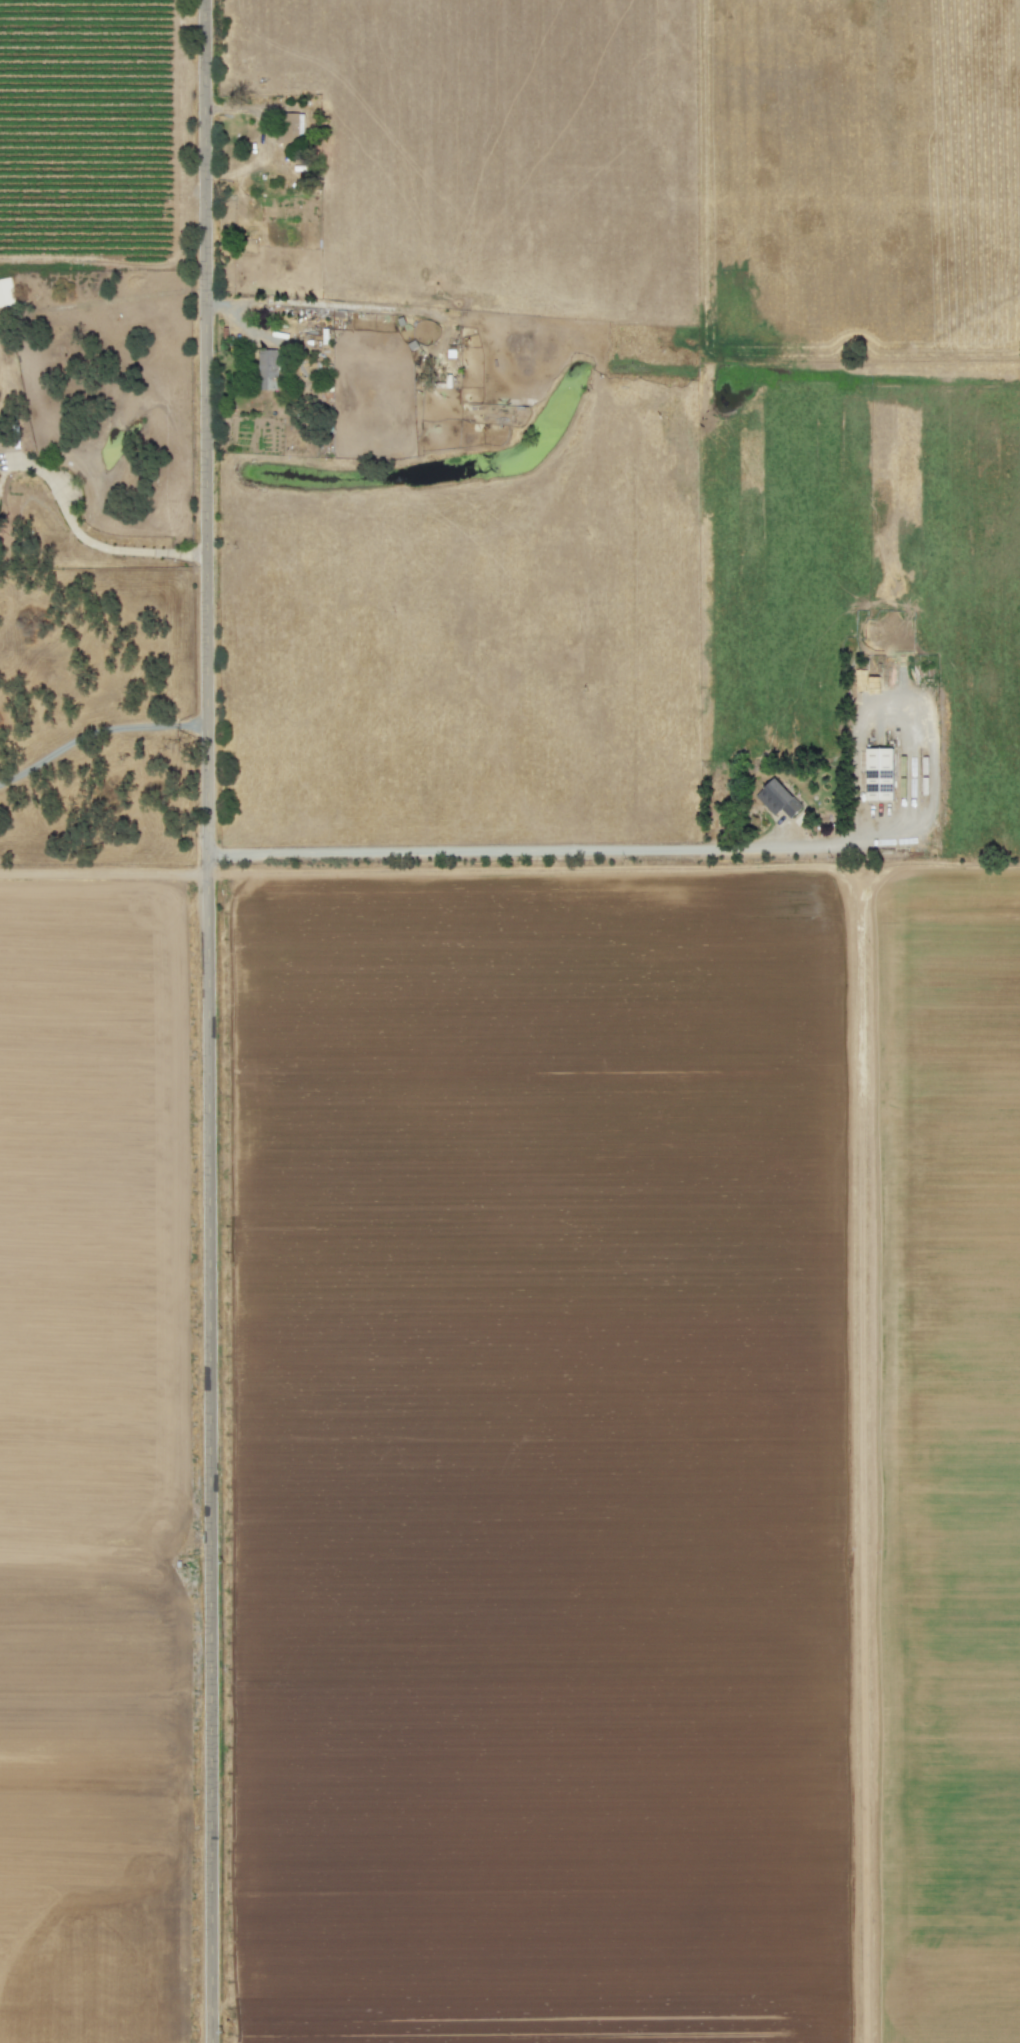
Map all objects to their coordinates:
building: (291, 127)
building: (6, 292)
building: (266, 369)
road: (92, 536)
road: (95, 732)
building: (880, 774)
building: (777, 799)
road: (560, 850)
road: (204, 1021)

